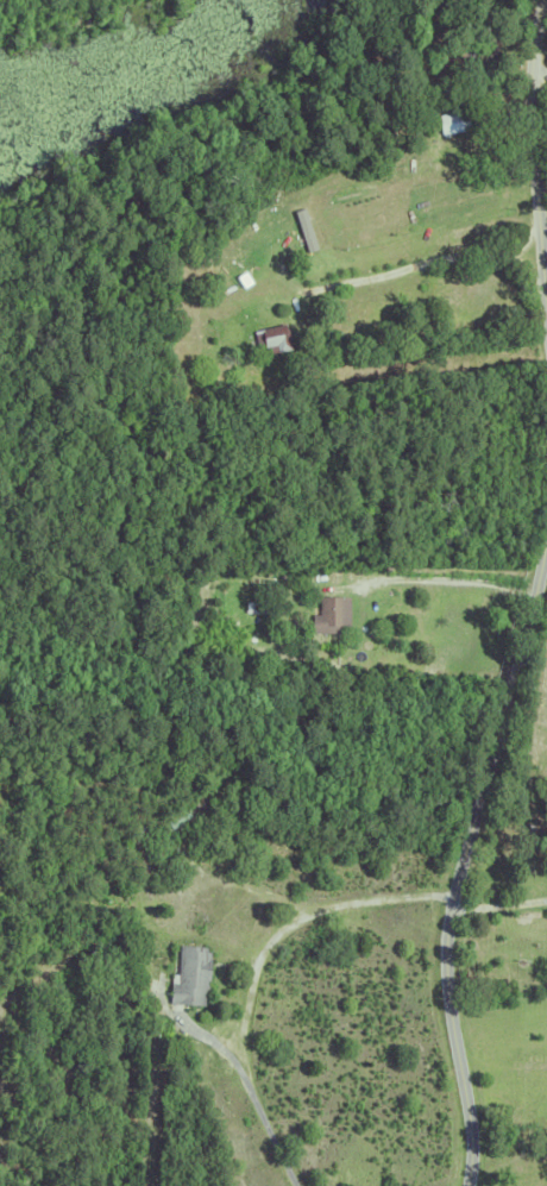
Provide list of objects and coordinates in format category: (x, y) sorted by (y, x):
building: (452, 57)
road: (540, 73)
building: (444, 124)
road: (535, 163)
building: (302, 230)
road: (427, 264)
road: (546, 316)
building: (269, 335)
road: (460, 578)
building: (266, 603)
building: (327, 611)
road: (461, 865)
road: (253, 968)
building: (188, 974)
building: (144, 991)
building: (144, 996)

